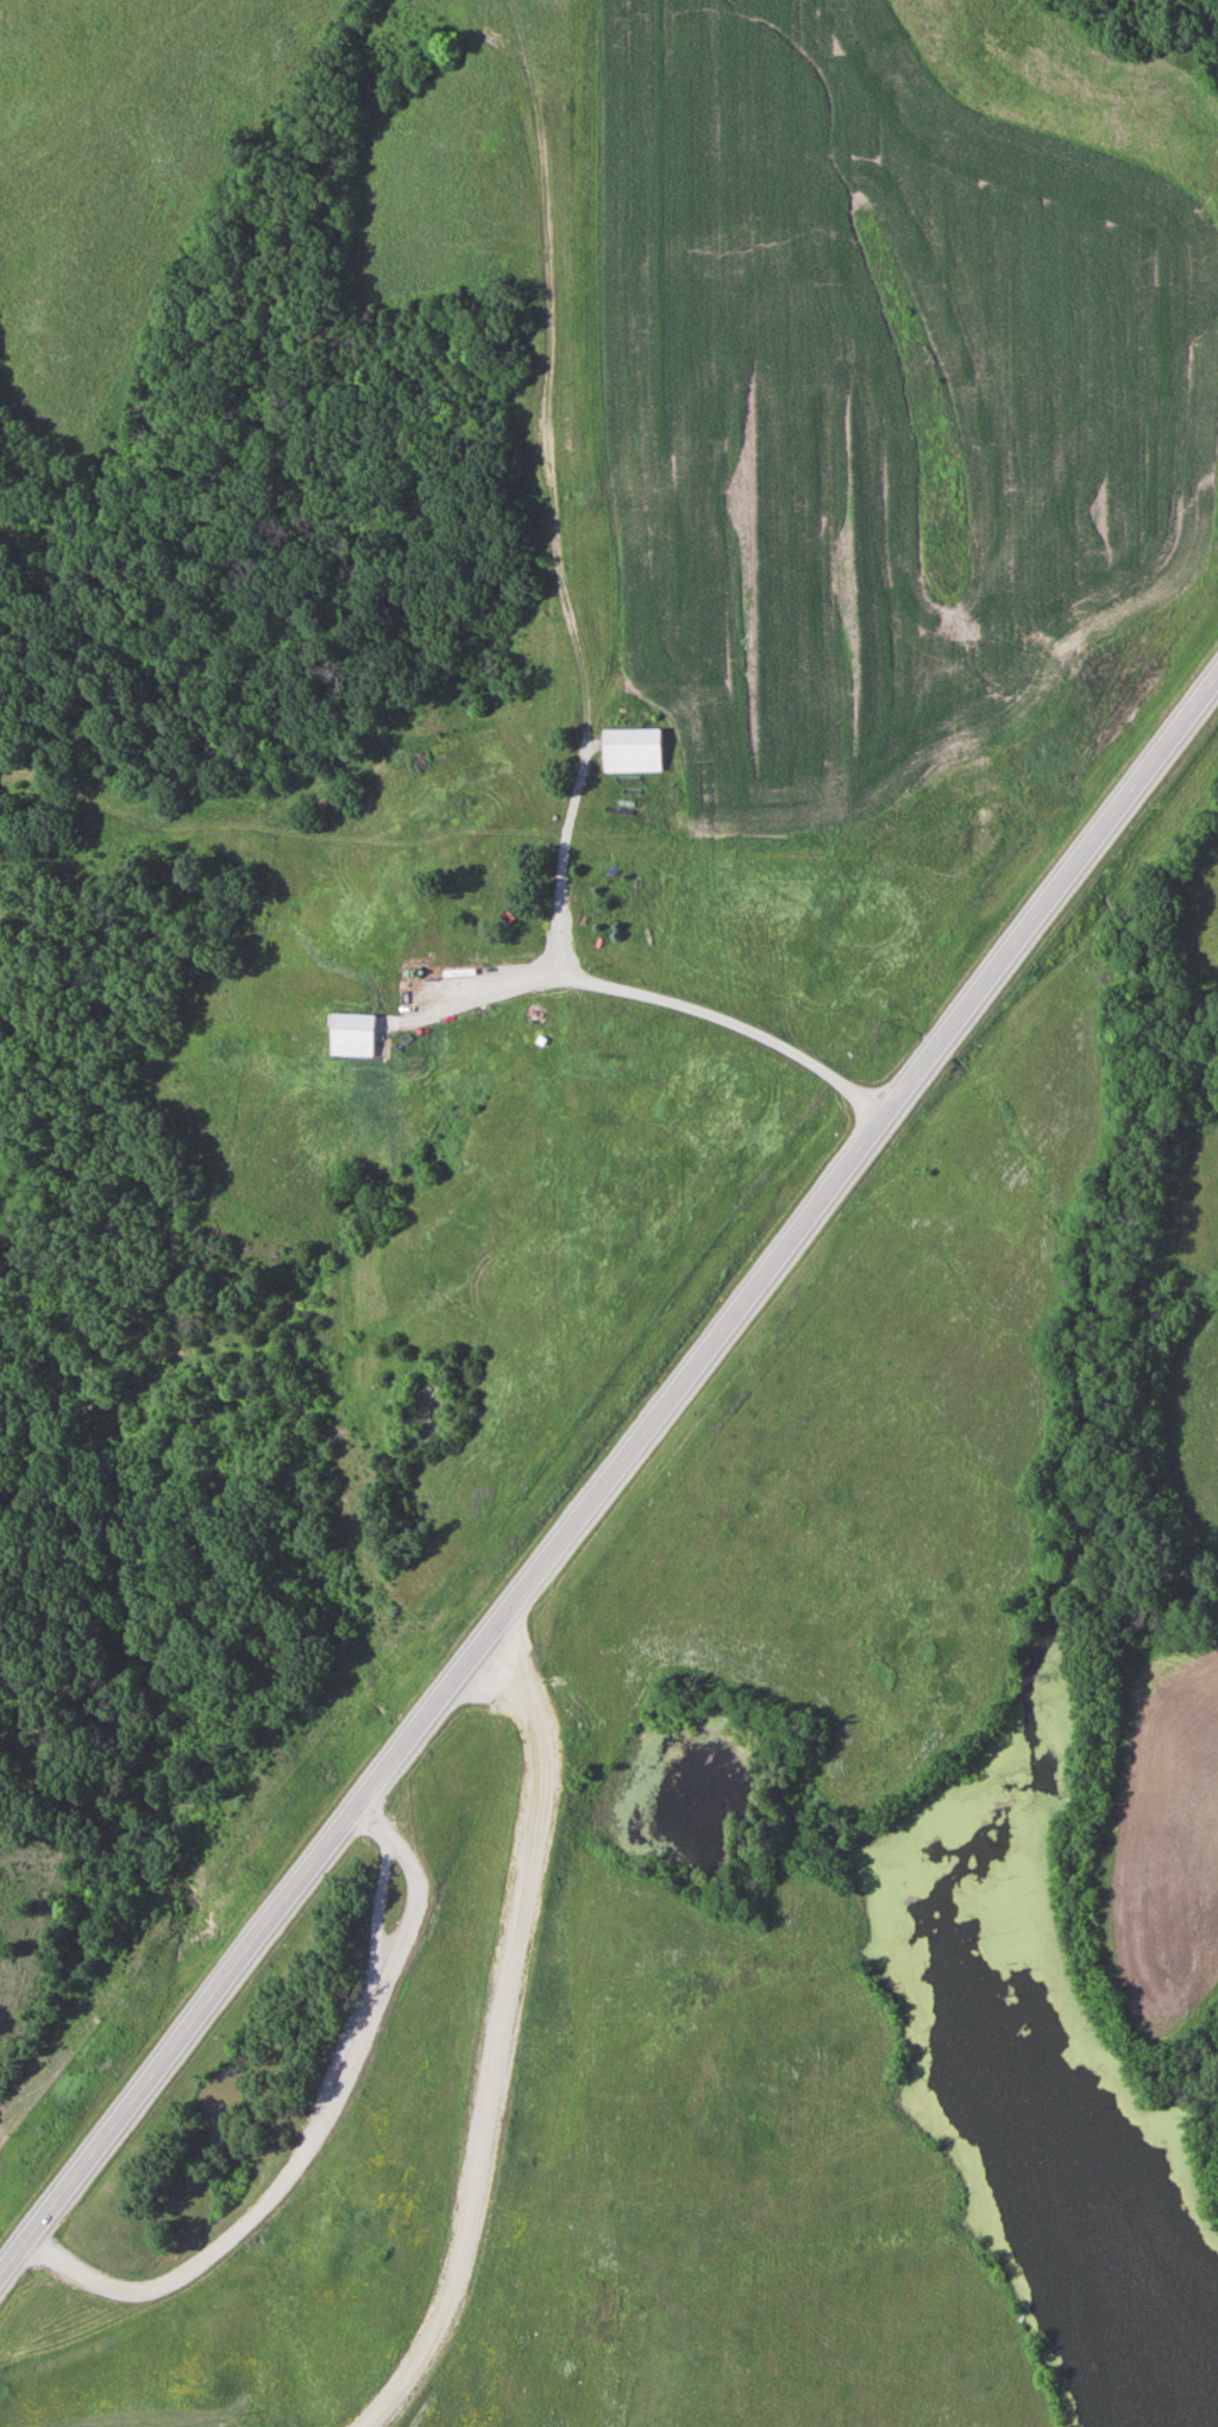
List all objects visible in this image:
building: (634, 751)
road: (668, 1001)
building: (352, 1034)
road: (608, 1480)

